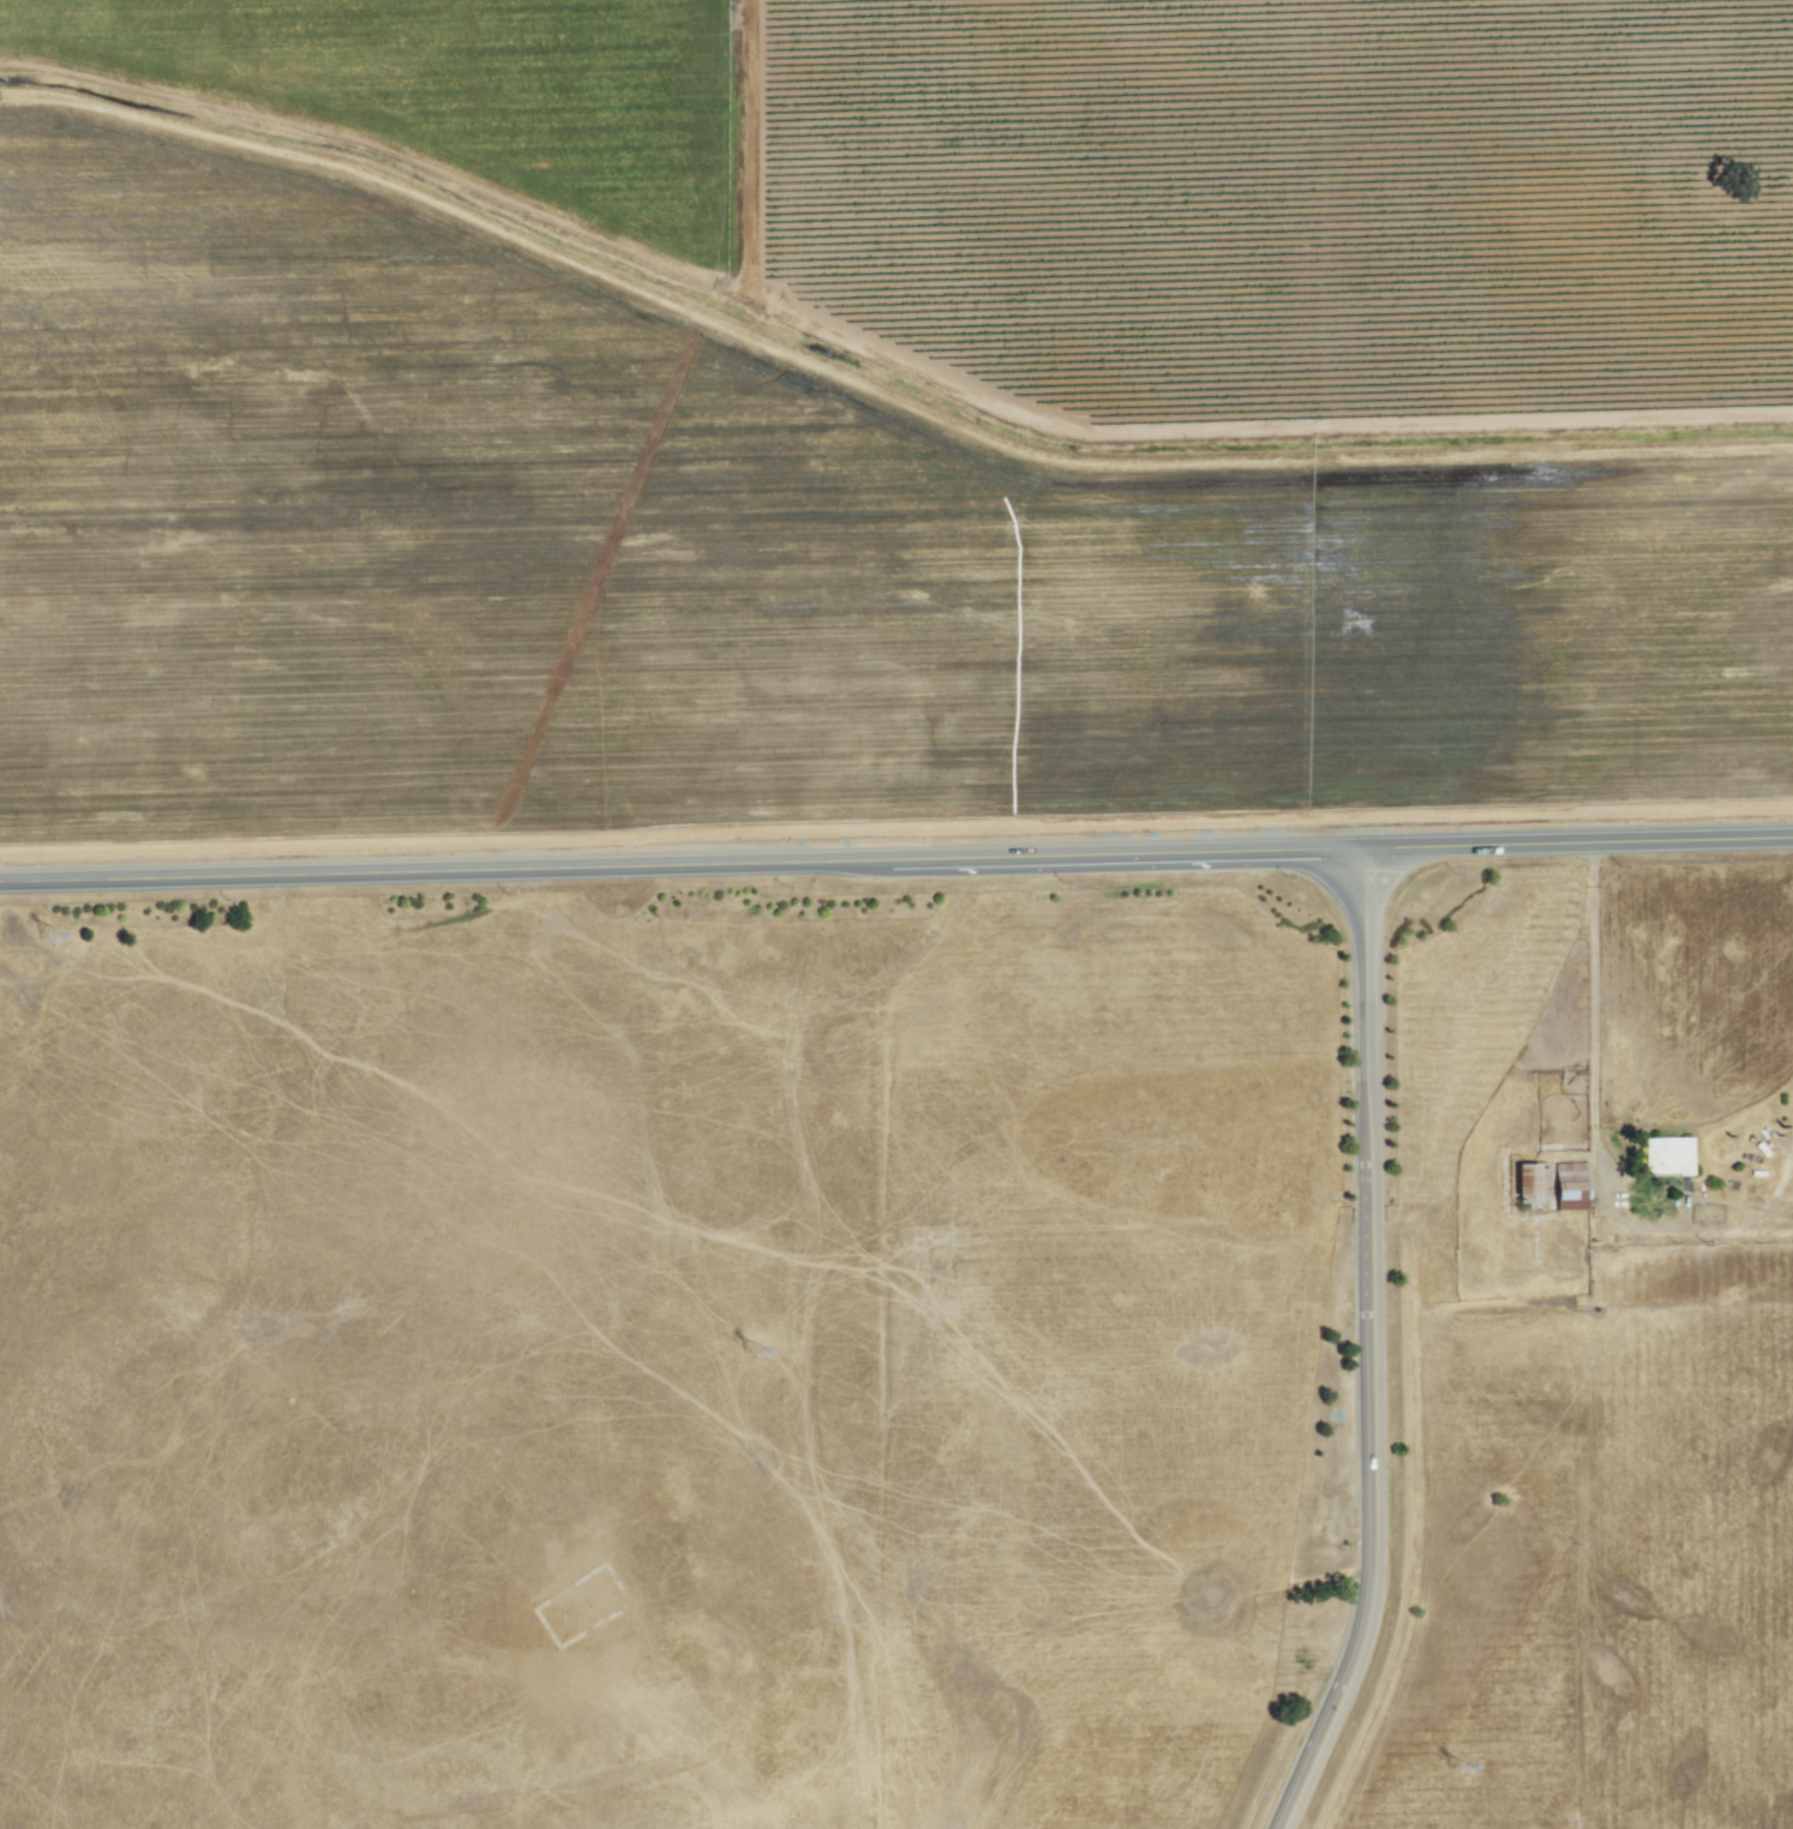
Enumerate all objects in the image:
road: (895, 856)
power tower: (56, 934)
road: (1591, 1015)
building: (1667, 1155)
building: (1529, 1183)
building: (1570, 1185)
road: (1369, 1345)
landfill: (1570, 1349)
power tower: (758, 1353)
road: (1405, 1540)
power tower: (1467, 1767)

